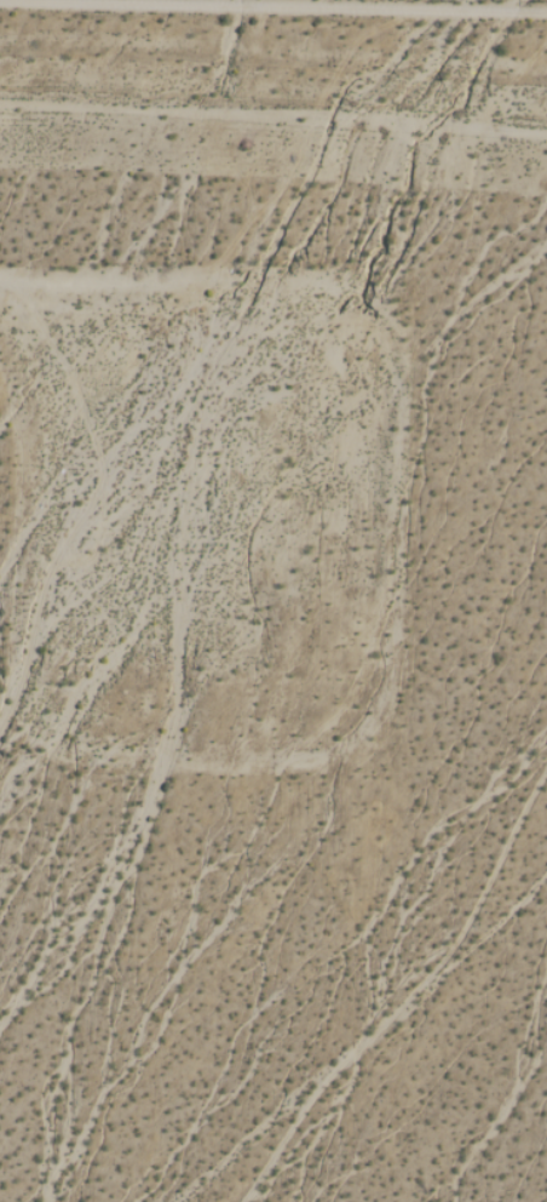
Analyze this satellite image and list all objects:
road: (273, 10)

